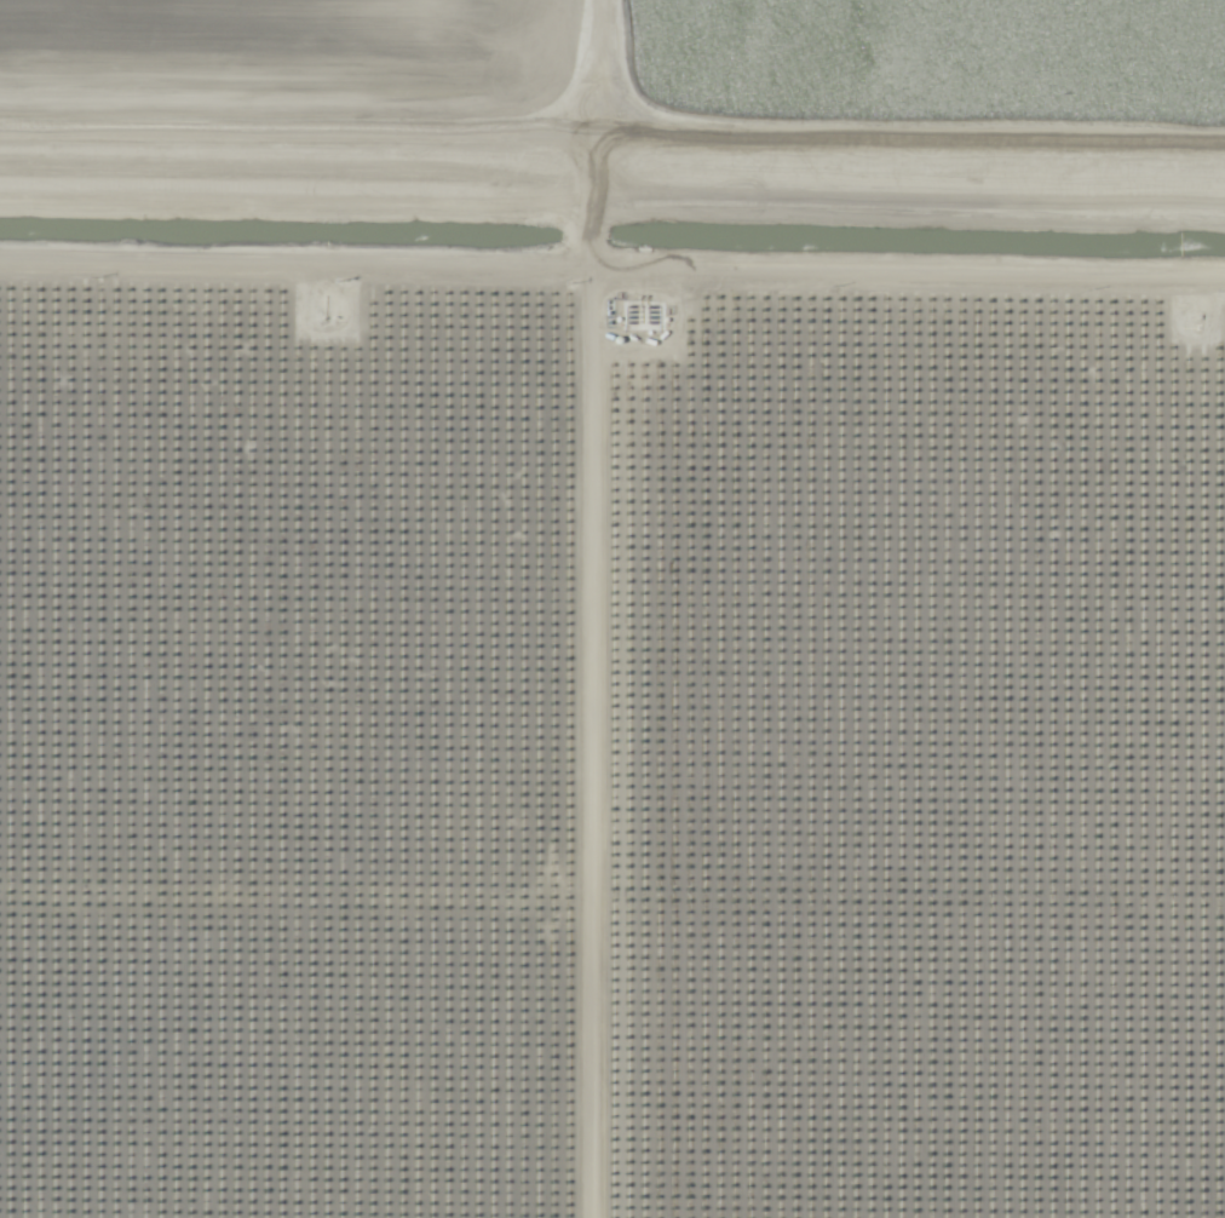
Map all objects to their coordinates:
road: (612, 132)
road: (612, 277)
crop: (593, 649)
road: (571, 747)

